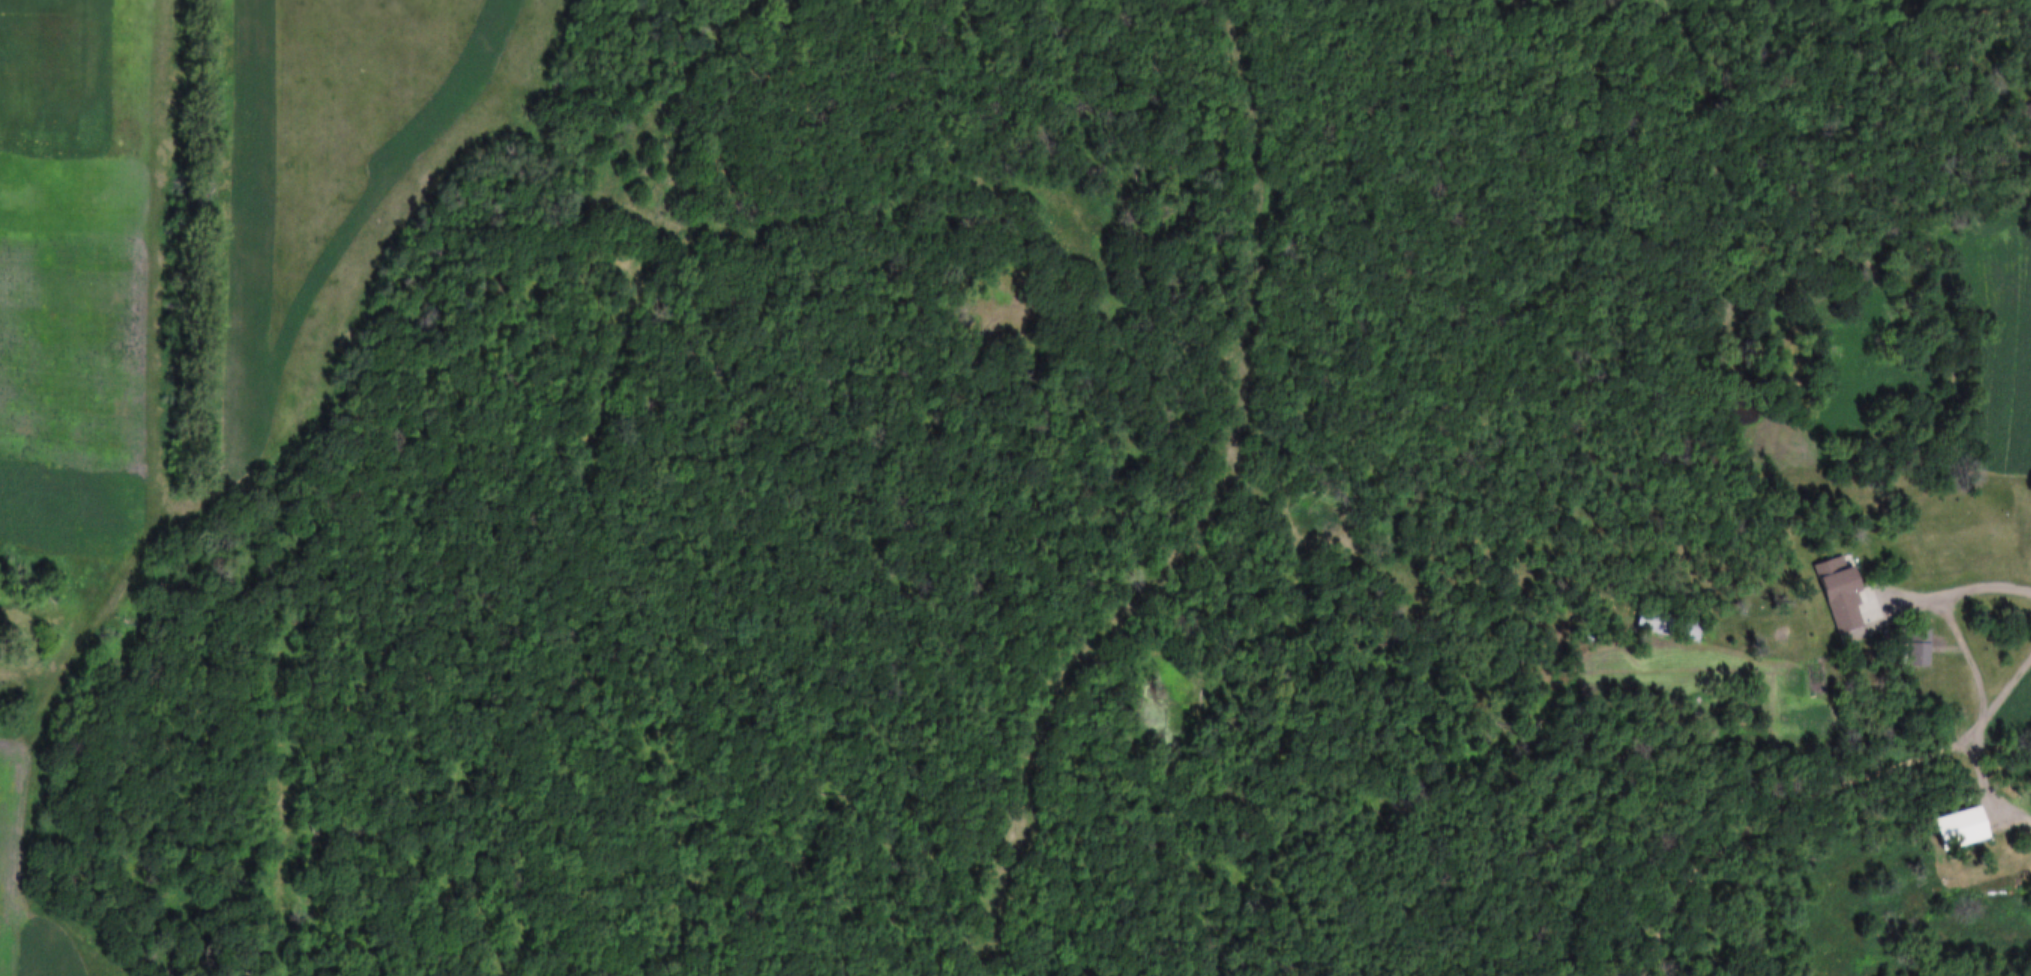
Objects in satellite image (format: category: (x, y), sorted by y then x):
building: (1671, 626)
building: (1767, 631)
building: (1920, 648)
road: (1997, 703)
building: (1947, 894)

